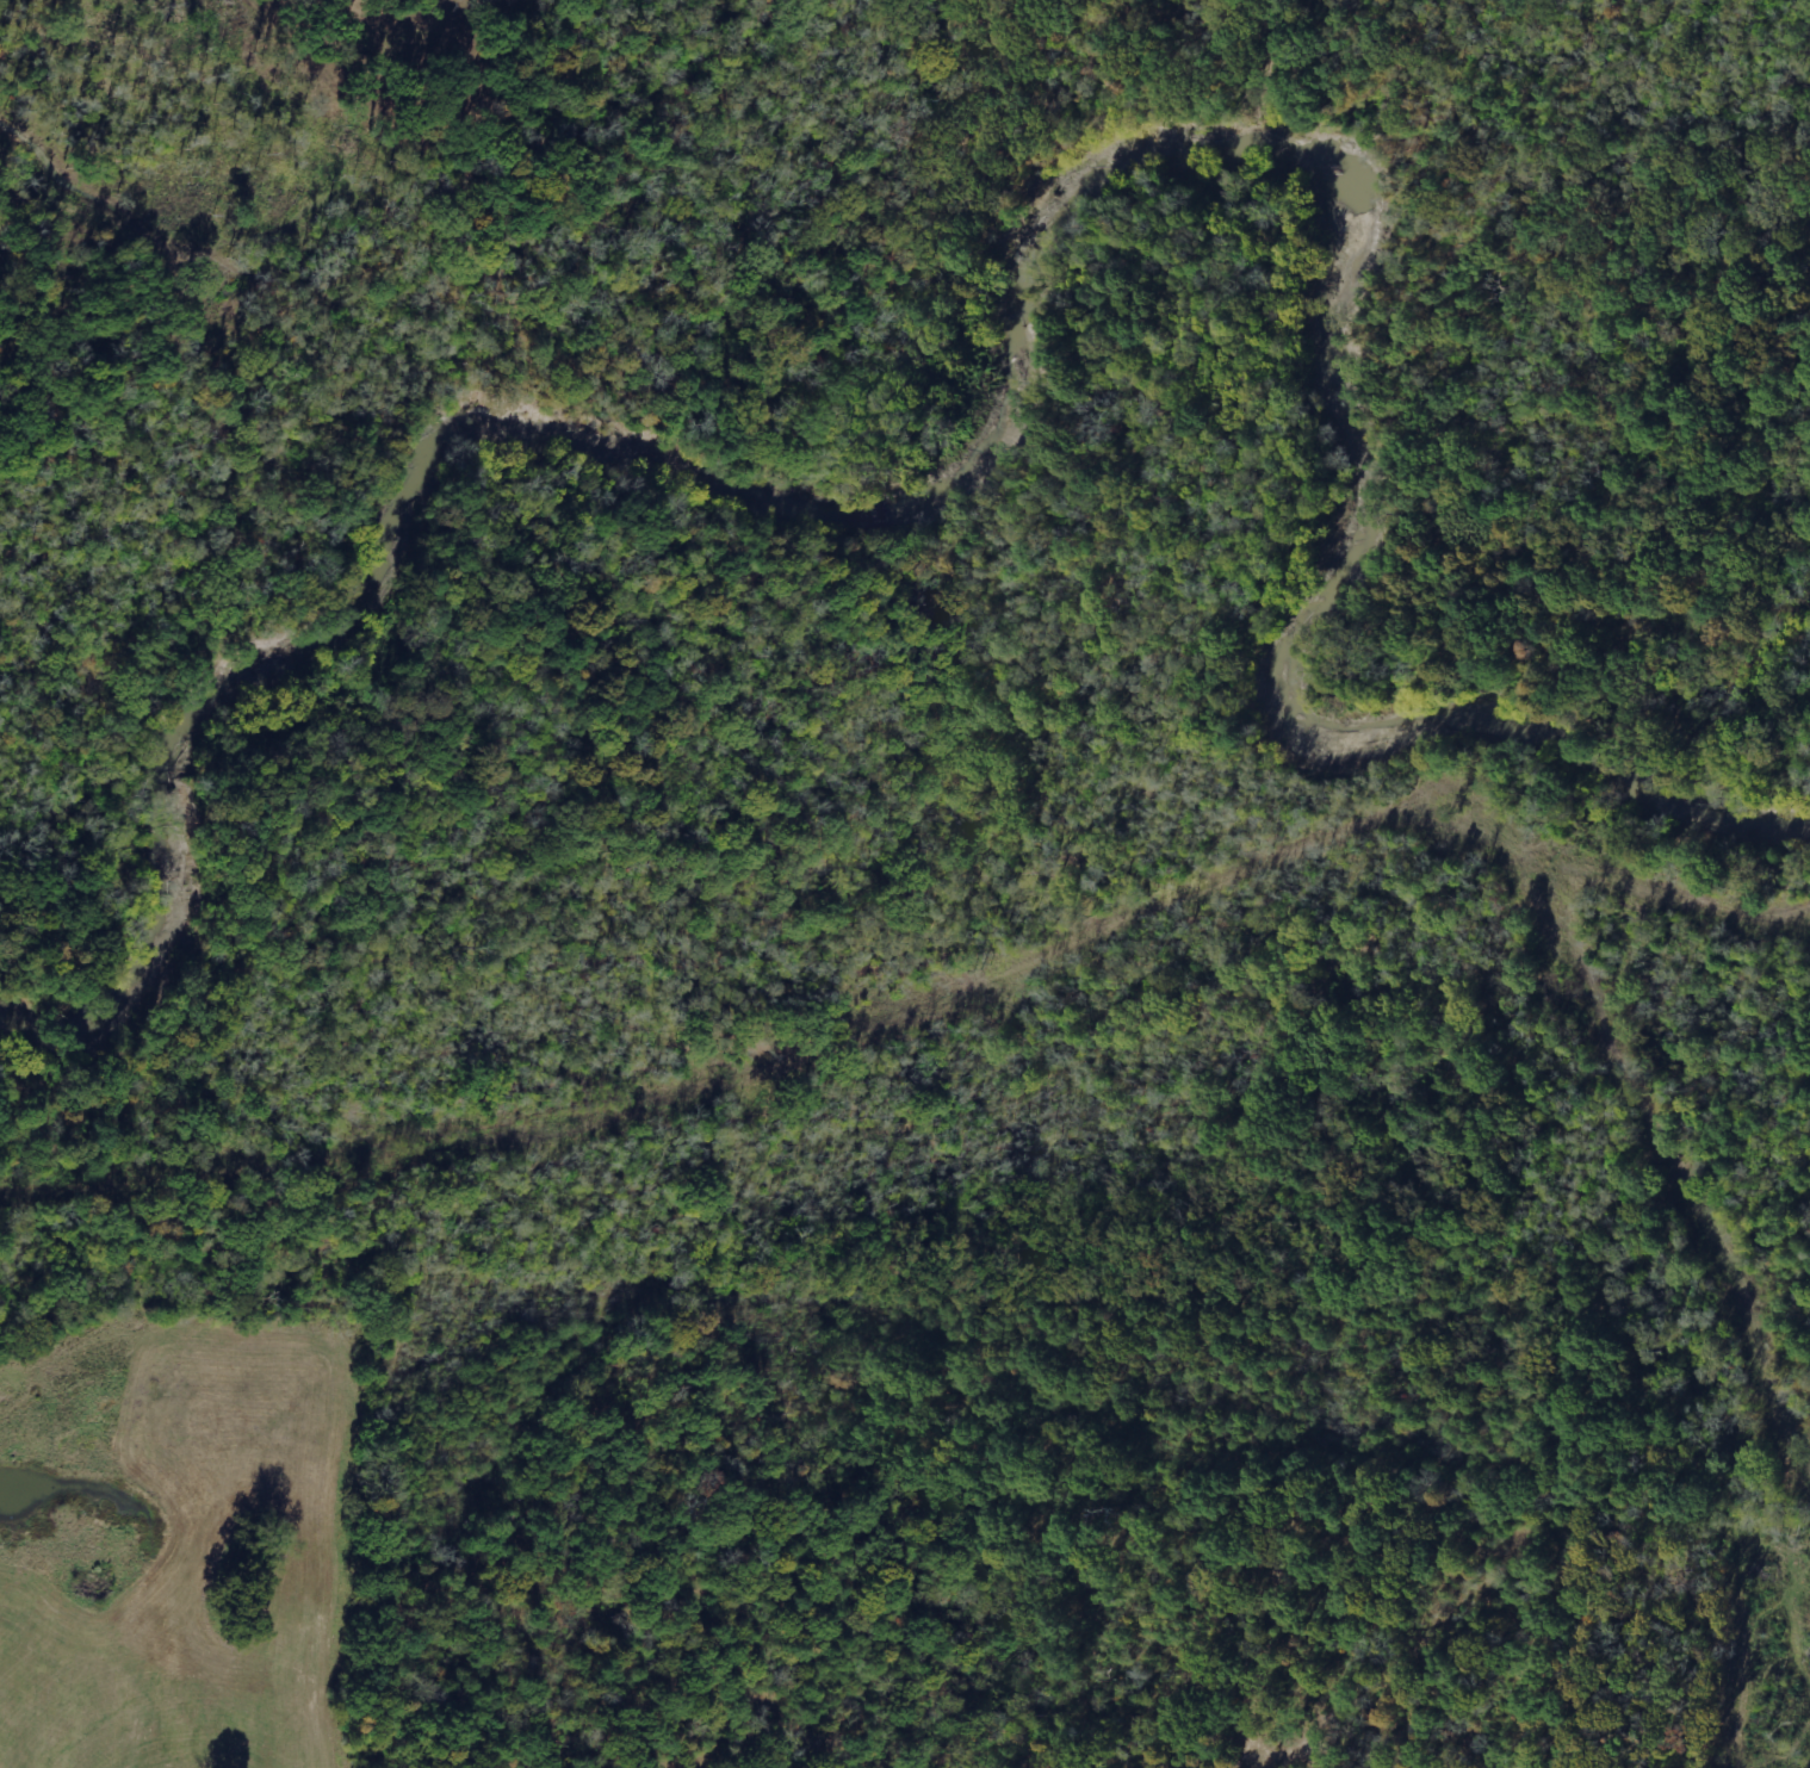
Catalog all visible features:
river: (1021, 303)

